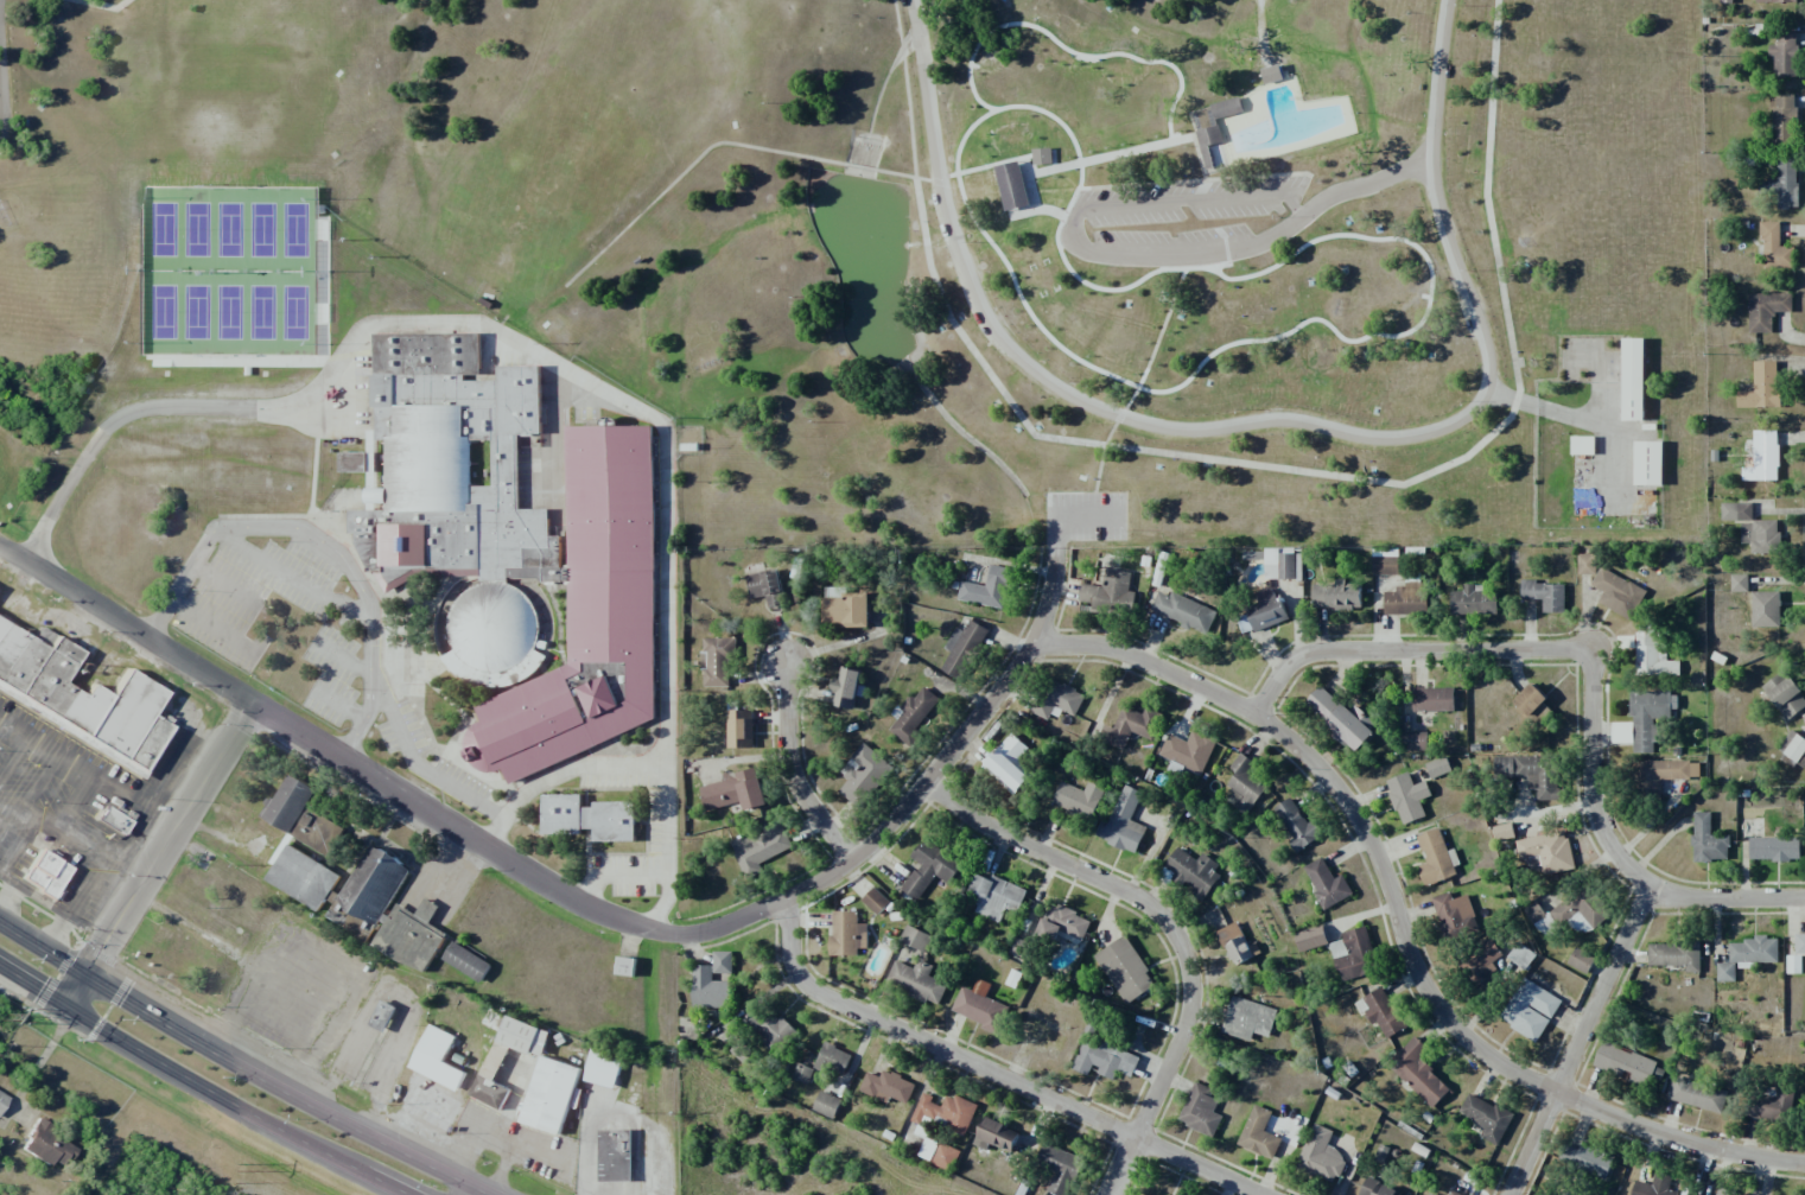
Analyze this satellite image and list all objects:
building: (1725, 1)
building: (1774, 1)
road: (102, 4)
building: (1785, 56)
road: (0, 93)
building: (1227, 108)
building: (1784, 119)
building: (1205, 144)
road: (996, 147)
building: (1042, 155)
road: (860, 167)
road: (686, 169)
dam: (858, 176)
road: (905, 176)
road: (1063, 176)
road: (1362, 182)
road: (942, 183)
building: (1785, 183)
road: (1130, 184)
park: (1562, 204)
parking lot: (1188, 211)
road: (1073, 227)
road: (923, 233)
park: (966, 243)
building: (1774, 247)
road: (1225, 249)
road: (1207, 267)
building: (1257, 301)
building: (1220, 310)
building: (1766, 310)
road: (1248, 324)
road: (1159, 333)
parking lot: (1589, 361)
road: (1599, 376)
building: (1633, 379)
building: (1761, 387)
road: (1120, 414)
road: (1260, 420)
road: (1589, 421)
road: (1480, 443)
building: (1583, 445)
road: (1101, 456)
building: (1761, 456)
building: (360, 463)
building: (1648, 463)
building: (1736, 510)
road: (1072, 516)
parking lot: (1085, 516)
building: (1761, 535)
building: (514, 548)
building: (1385, 561)
building: (1283, 564)
building: (1587, 564)
building: (1739, 583)
building: (767, 587)
building: (986, 587)
building: (1110, 593)
building: (1617, 593)
building: (1545, 595)
building: (1336, 596)
building: (1406, 599)
building: (1473, 600)
building: (1766, 609)
building: (849, 610)
building: (1184, 611)
building: (1261, 612)
road: (1543, 644)
building: (962, 649)
building: (1653, 655)
building: (718, 661)
building: (846, 687)
building: (1785, 695)
building: (80, 697)
building: (1434, 699)
building: (1059, 700)
building: (1533, 705)
building: (914, 717)
building: (1650, 717)
building: (1341, 718)
building: (1130, 726)
building: (739, 729)
building: (1621, 732)
building: (1416, 740)
building: (1794, 746)
building: (1188, 750)
building: (1009, 764)
building: (1437, 767)
road: (796, 771)
building: (1531, 773)
building: (1667, 773)
building: (864, 775)
building: (1245, 783)
building: (736, 792)
building: (1407, 796)
building: (1079, 799)
building: (287, 803)
building: (589, 818)
building: (1124, 821)
building: (1296, 825)
building: (316, 831)
building: (1502, 831)
building: (1708, 840)
building: (761, 848)
building: (1774, 848)
building: (1547, 851)
road: (159, 857)
building: (1436, 858)
building: (929, 867)
building: (1193, 871)
building: (44, 872)
building: (301, 877)
building: (373, 883)
building: (1327, 884)
road: (1727, 895)
building: (992, 896)
road: (581, 901)
building: (876, 901)
building: (1581, 910)
building: (1455, 916)
road: (1404, 923)
building: (1062, 924)
road: (1174, 929)
building: (847, 933)
building: (411, 935)
building: (1310, 939)
building: (1237, 943)
building: (1799, 943)
traffic signals: (102, 951)
building: (1354, 954)
building: (1521, 955)
building: (1676, 955)
building: (1746, 955)
building: (1581, 960)
building: (1481, 965)
building: (1125, 970)
building: (916, 971)
building: (708, 989)
traffic signals: (39, 991)
traffic signals: (125, 998)
building: (979, 1009)
building: (1530, 1009)
building: (1381, 1012)
power tower: (5, 1016)
building: (379, 1016)
building: (1247, 1018)
building: (770, 1030)
road: (1581, 1040)
building: (1105, 1060)
road: (241, 1062)
building: (824, 1063)
building: (1629, 1066)
road: (999, 1070)
building: (1418, 1073)
building: (491, 1080)
road: (202, 1085)
building: (888, 1087)
building: (1698, 1094)
building: (549, 1095)
building: (826, 1105)
building: (1772, 1106)
building: (1201, 1110)
building: (946, 1112)
building: (1487, 1117)
building: (1259, 1133)
building: (996, 1136)
building: (46, 1145)
building: (1322, 1156)
building: (1587, 1161)
power tower: (243, 1163)
building: (1059, 1168)
building: (1654, 1186)
building: (1378, 1188)
road: (460, 1189)
building: (1453, 1193)
building: (1692, 1194)
building: (1721, 1194)

